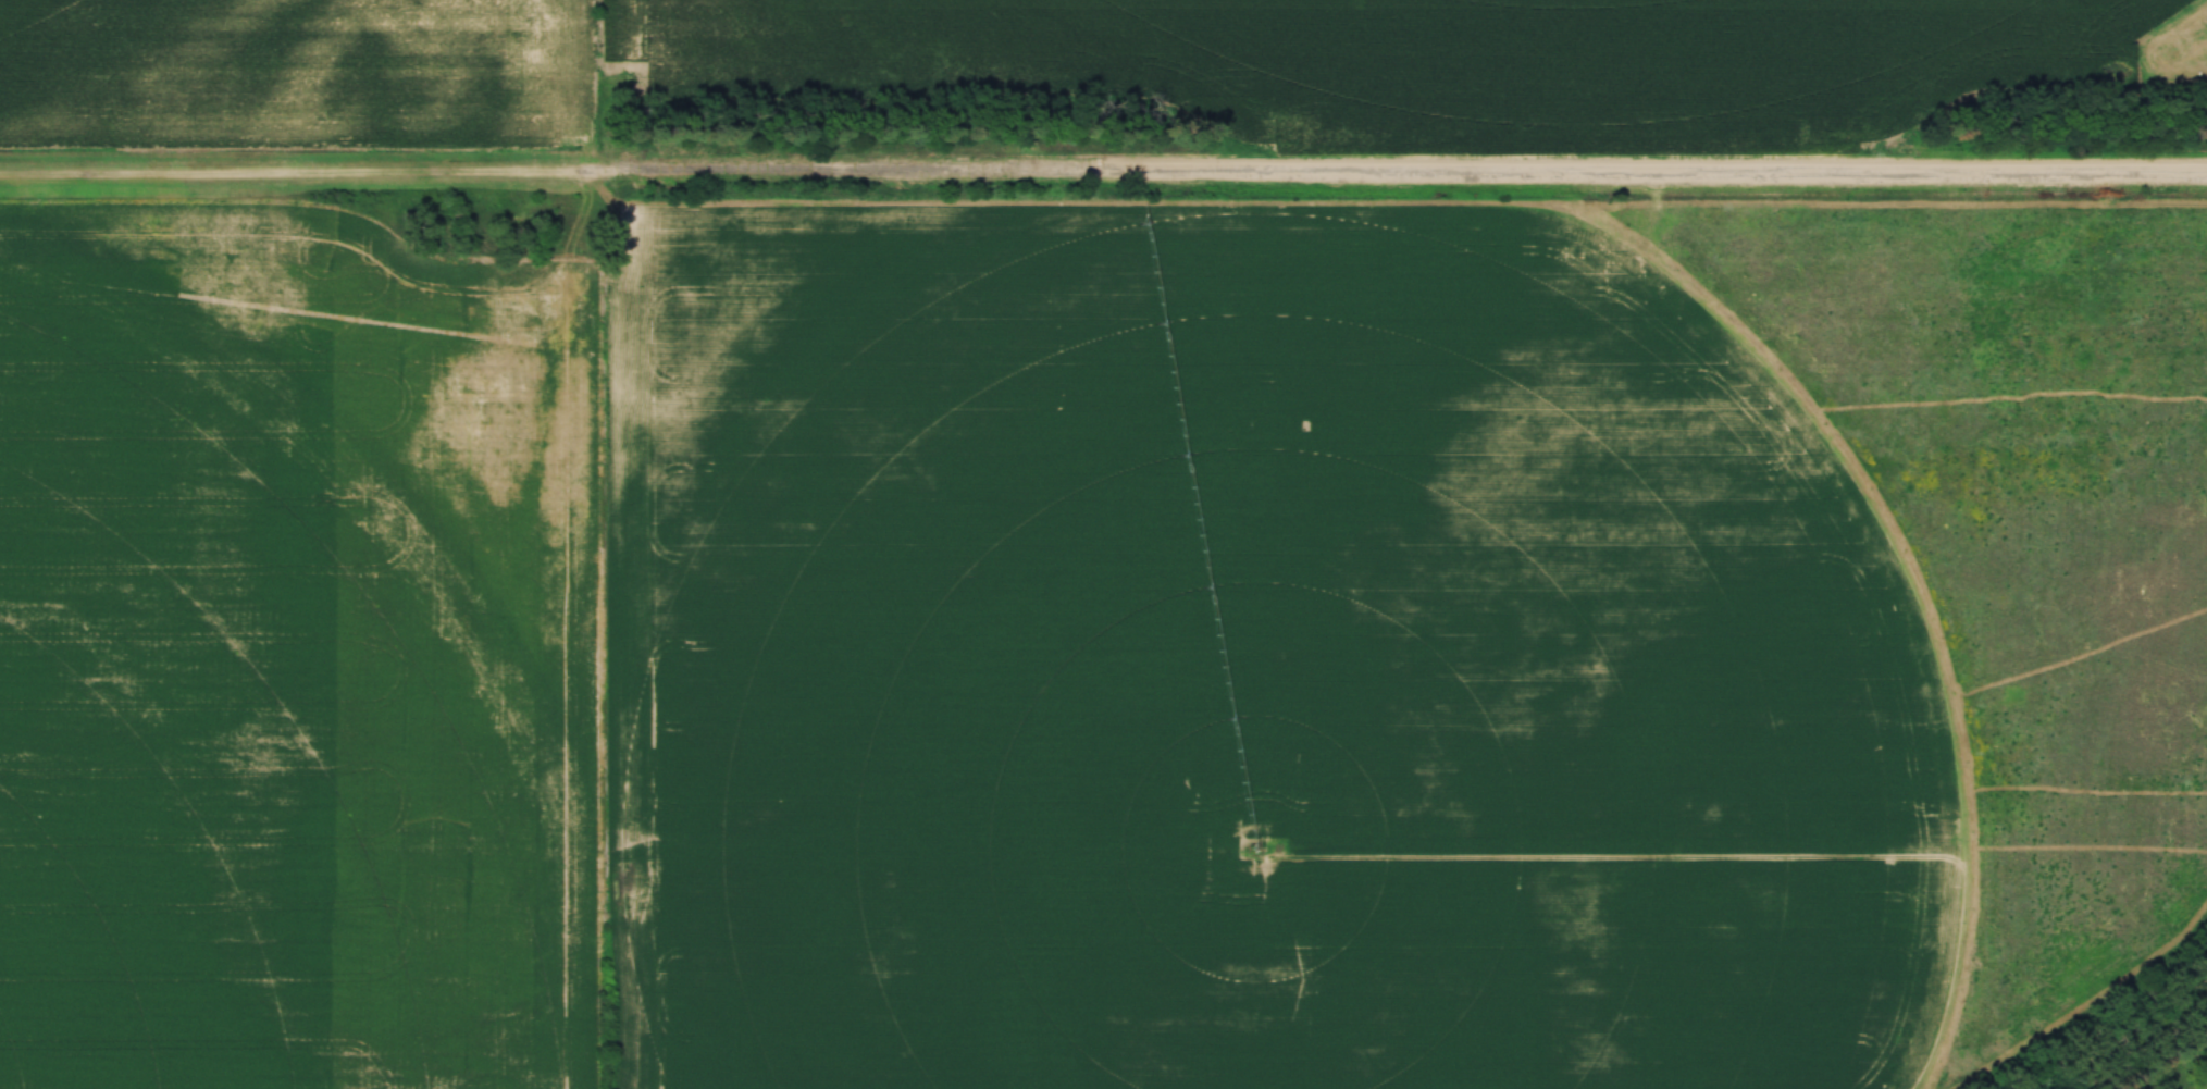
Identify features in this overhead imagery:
road: (511, 176)
road: (1615, 177)

